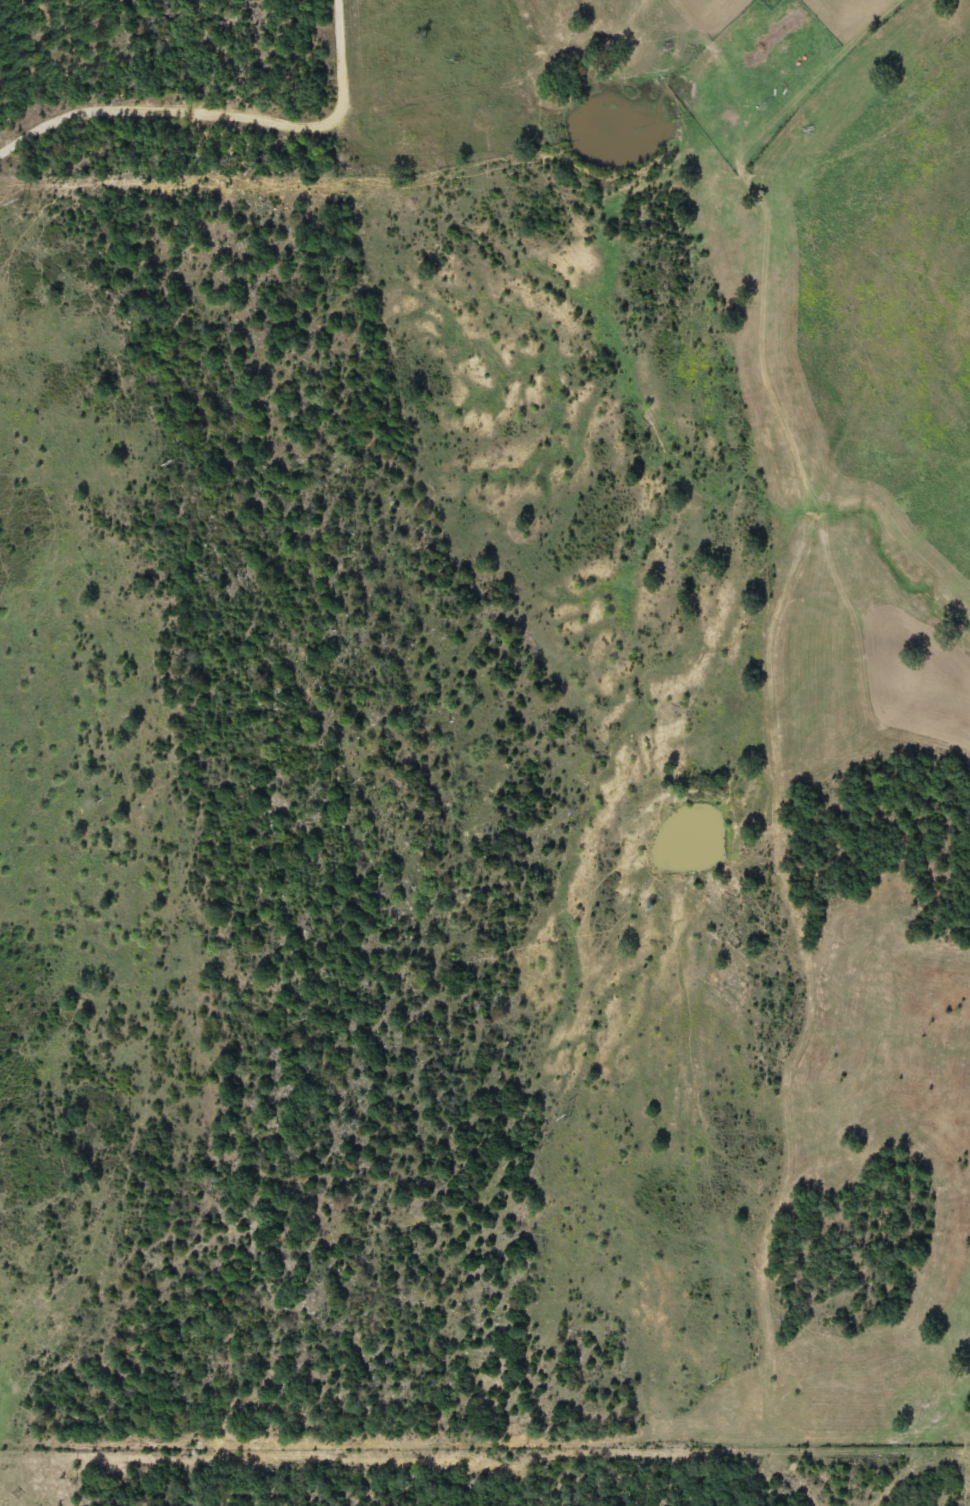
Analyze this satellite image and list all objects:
road: (219, 111)
power tower: (36, 204)
power tower: (193, 465)
power tower: (367, 781)
power tower: (577, 1120)
power tower: (736, 1385)

